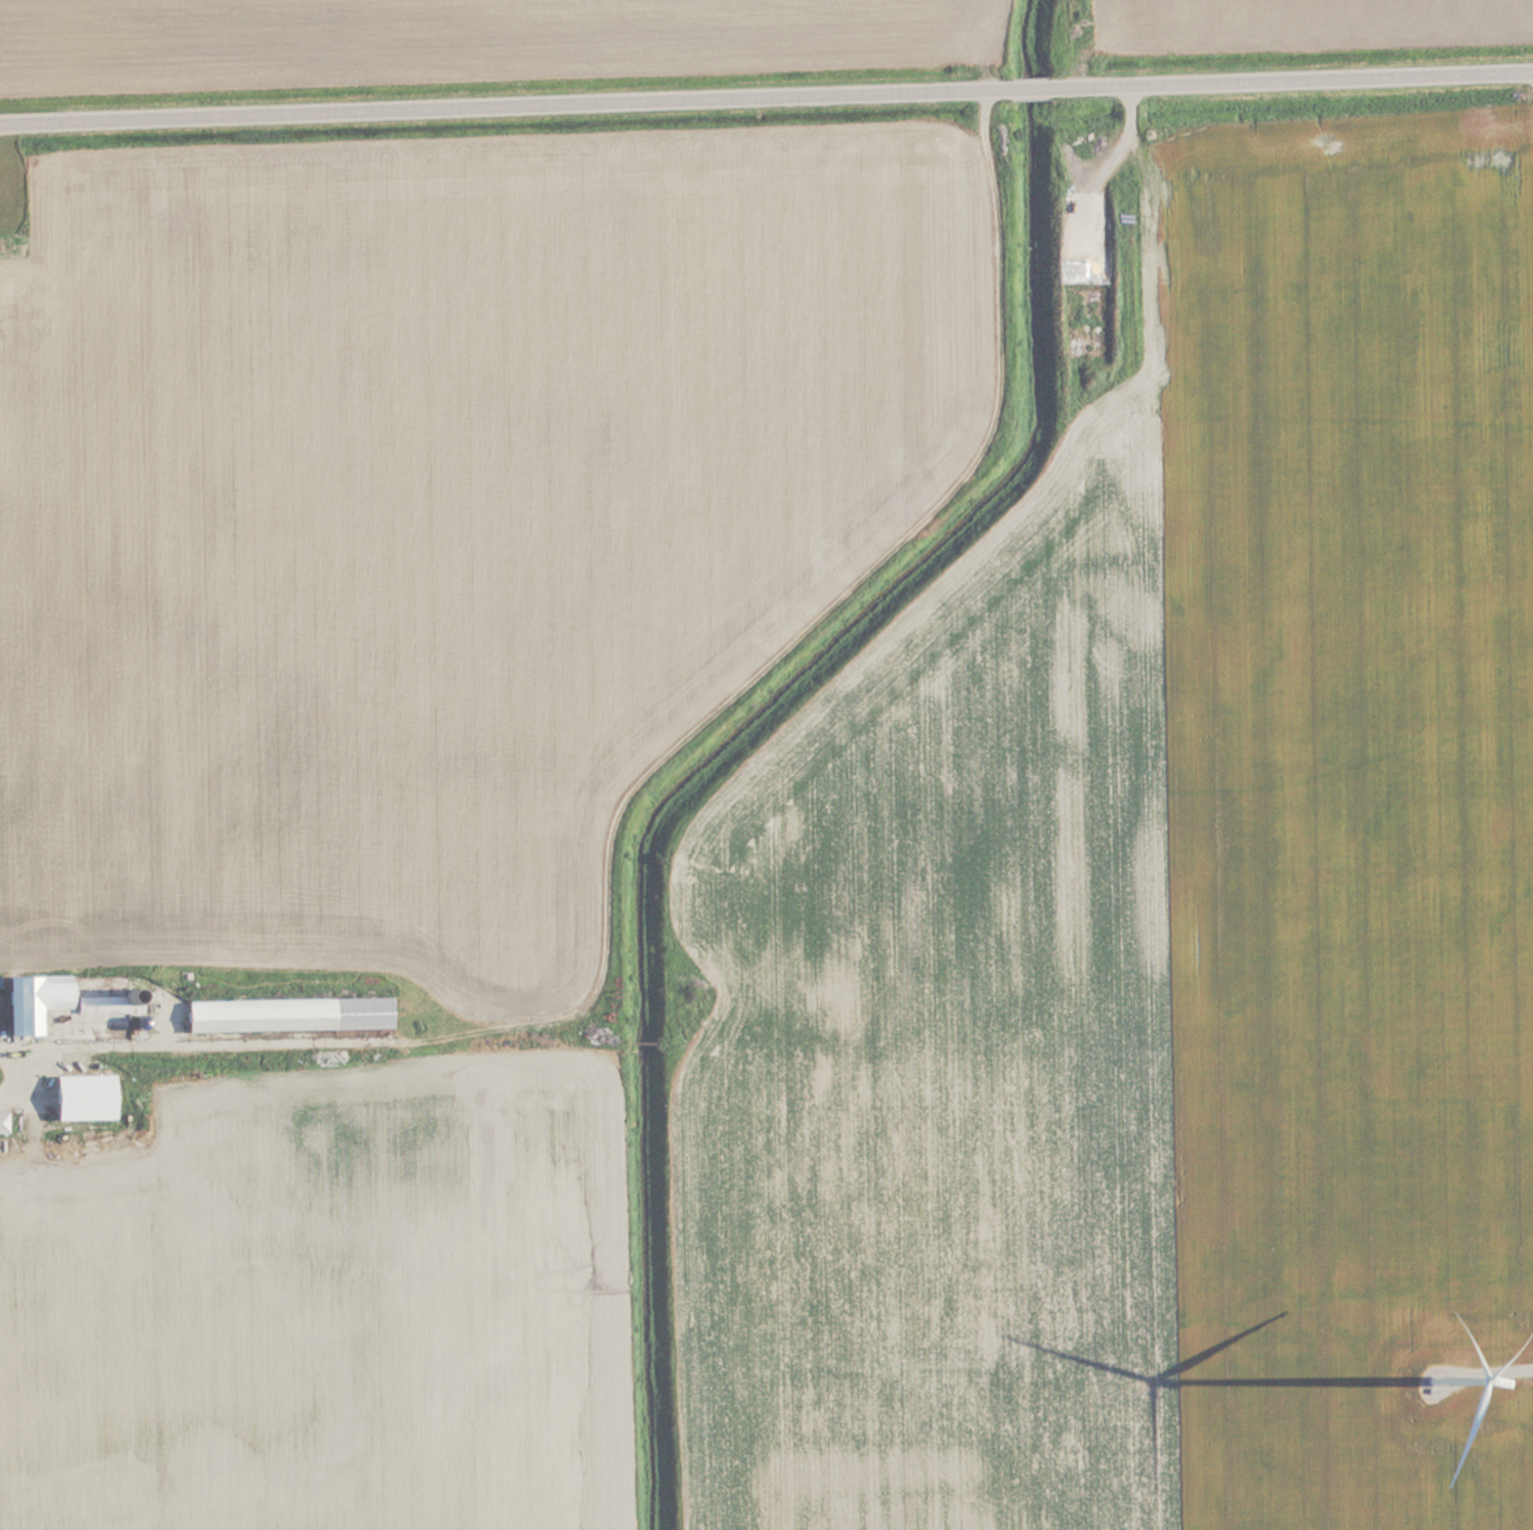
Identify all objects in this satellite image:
road: (1293, 75)
road: (1025, 84)
road: (498, 100)
building: (31, 1001)
building: (285, 1014)
building: (69, 1094)
building: (2, 1123)
road: (1521, 1371)
wind turbine: (1432, 1382)

